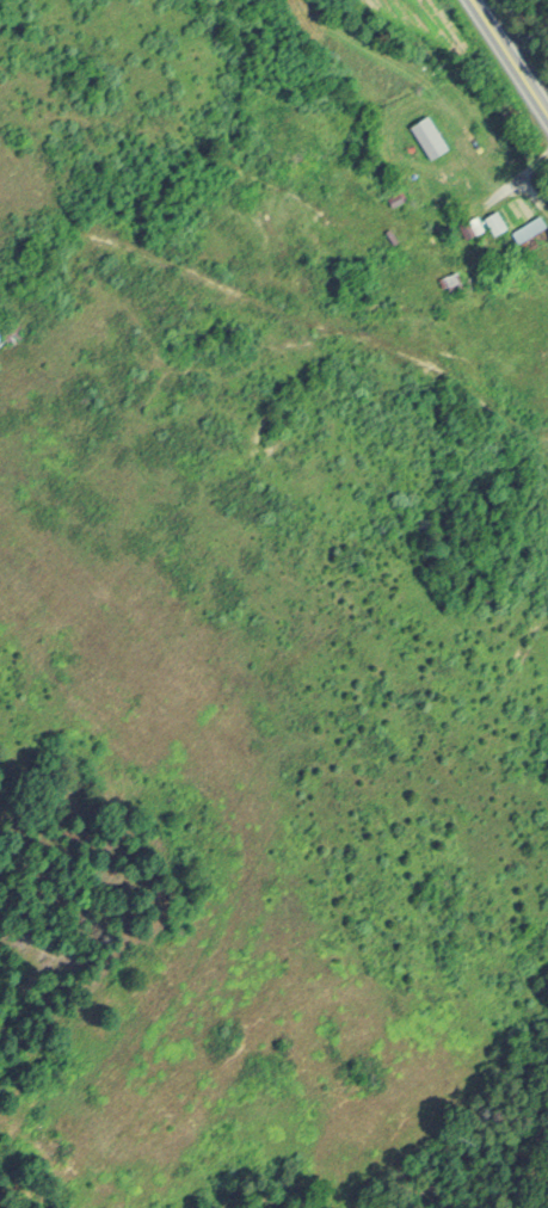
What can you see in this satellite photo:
road: (509, 56)
building: (426, 135)
building: (492, 221)
building: (467, 226)
building: (524, 228)
building: (447, 281)

